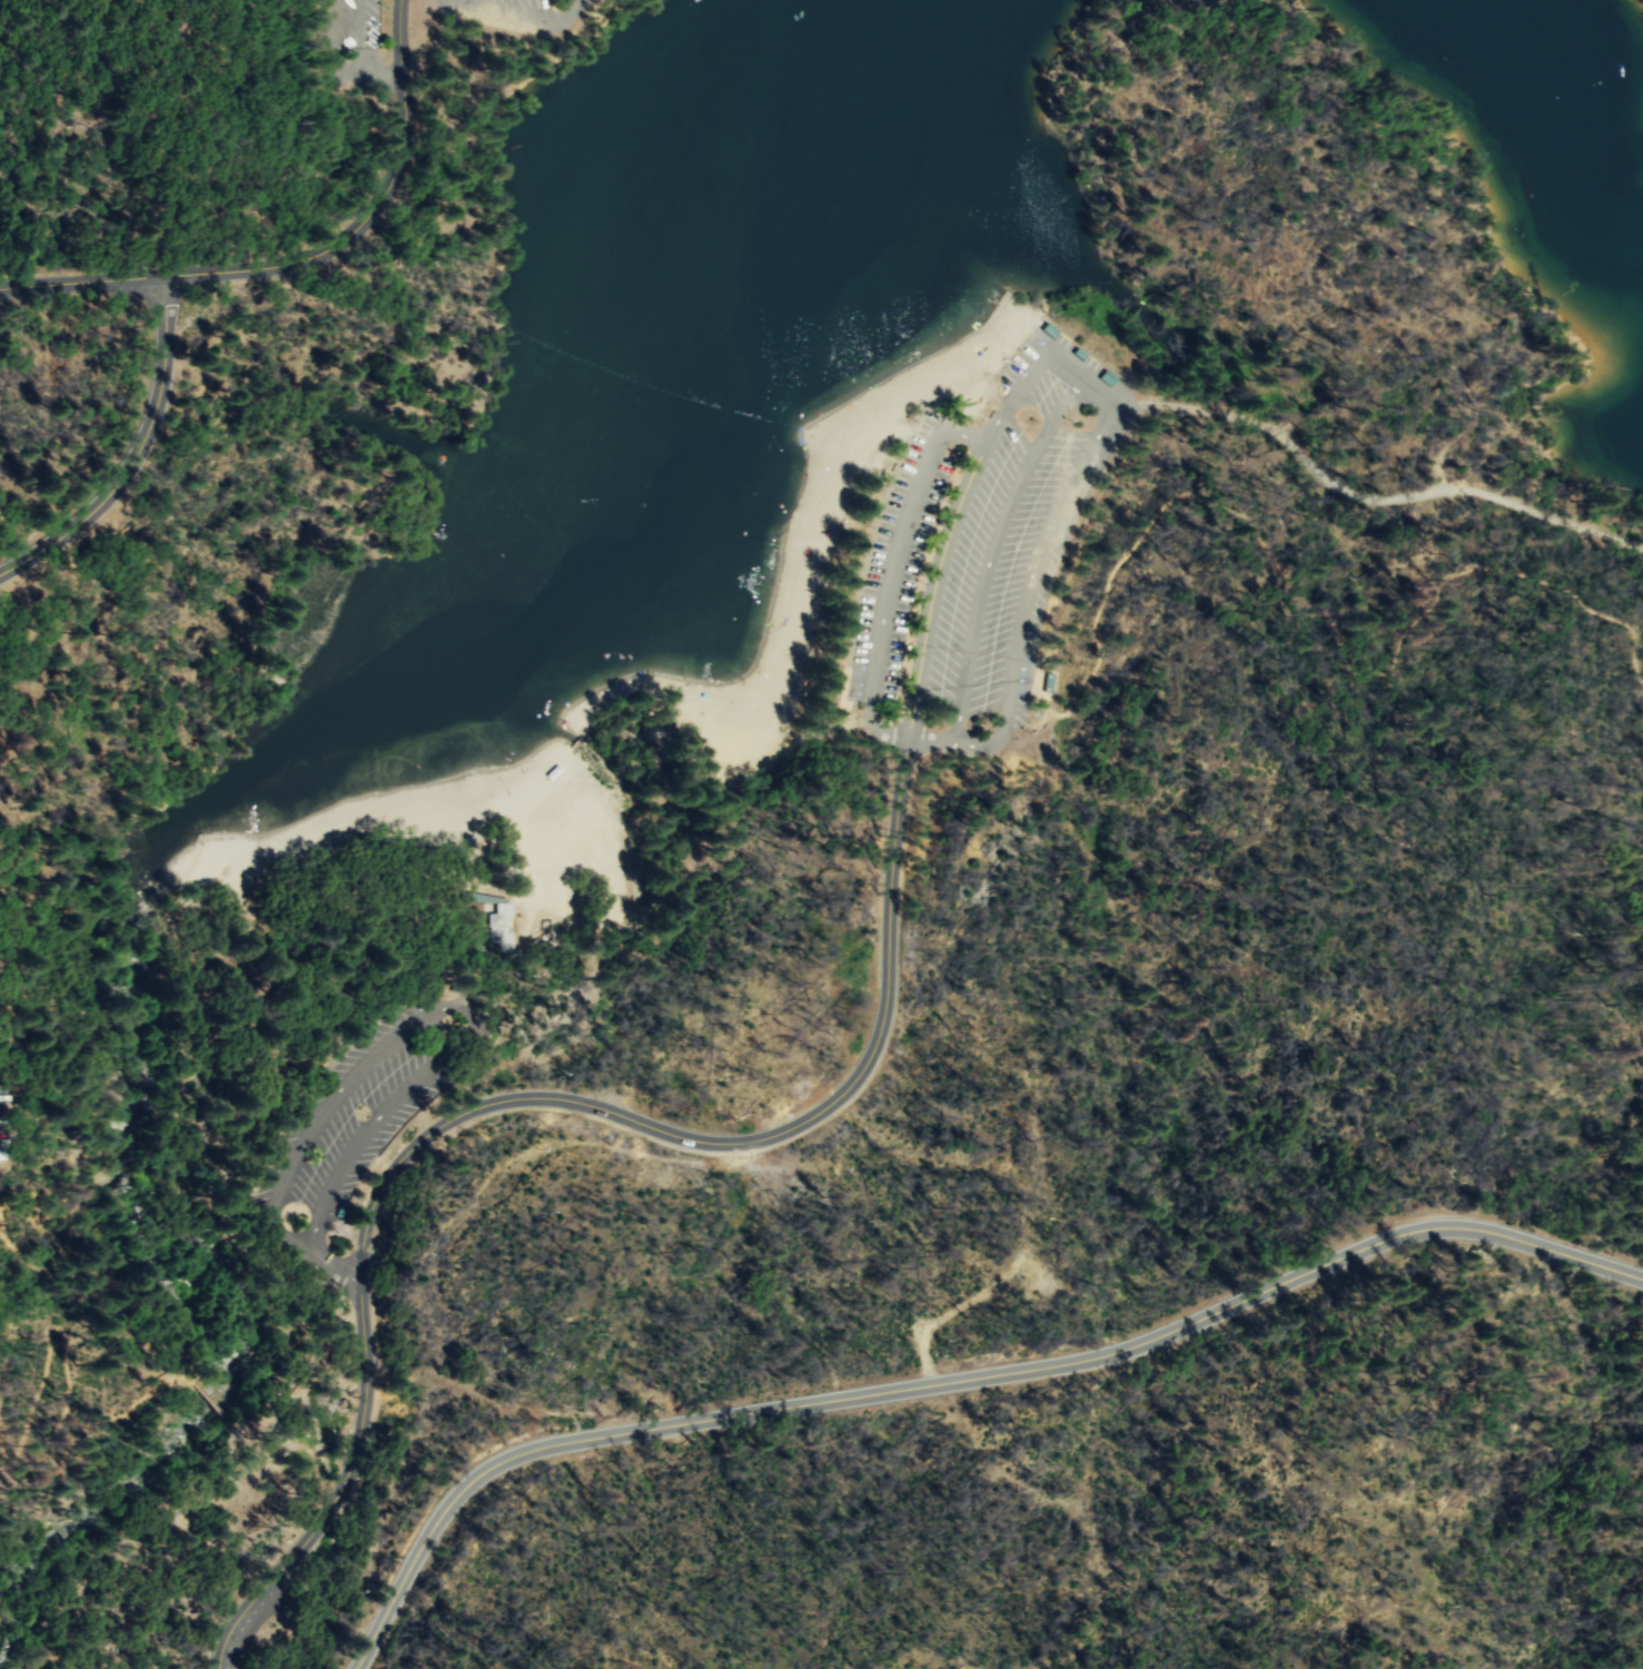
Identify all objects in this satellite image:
parking lot: (515, 14)
road: (516, 19)
road: (303, 259)
road: (1111, 398)
road: (133, 456)
road: (1356, 495)
road: (954, 515)
parking lot: (977, 555)
road: (884, 596)
road: (1318, 606)
building: (497, 929)
road: (473, 1020)
road: (527, 1100)
parking lot: (360, 1114)
road: (258, 1251)
road: (342, 1271)
road: (959, 1382)

